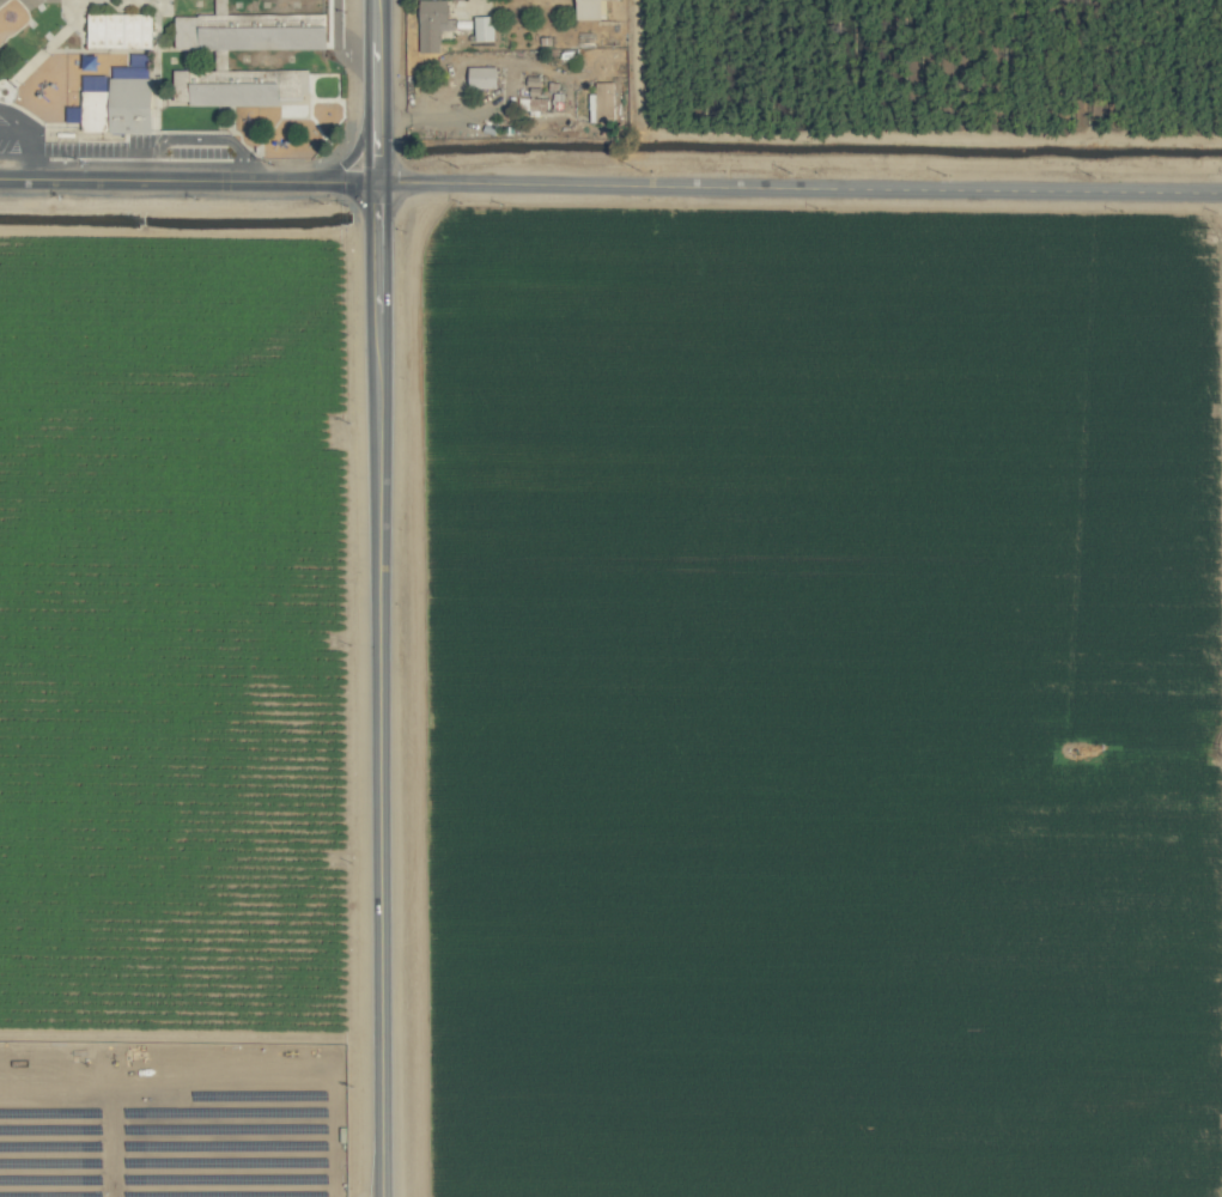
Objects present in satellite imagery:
building: (431, 23)
building: (484, 26)
building: (118, 30)
building: (186, 30)
building: (482, 75)
building: (118, 98)
building: (602, 102)
road: (30, 139)
road: (610, 184)
road: (378, 597)
crop: (610, 598)

